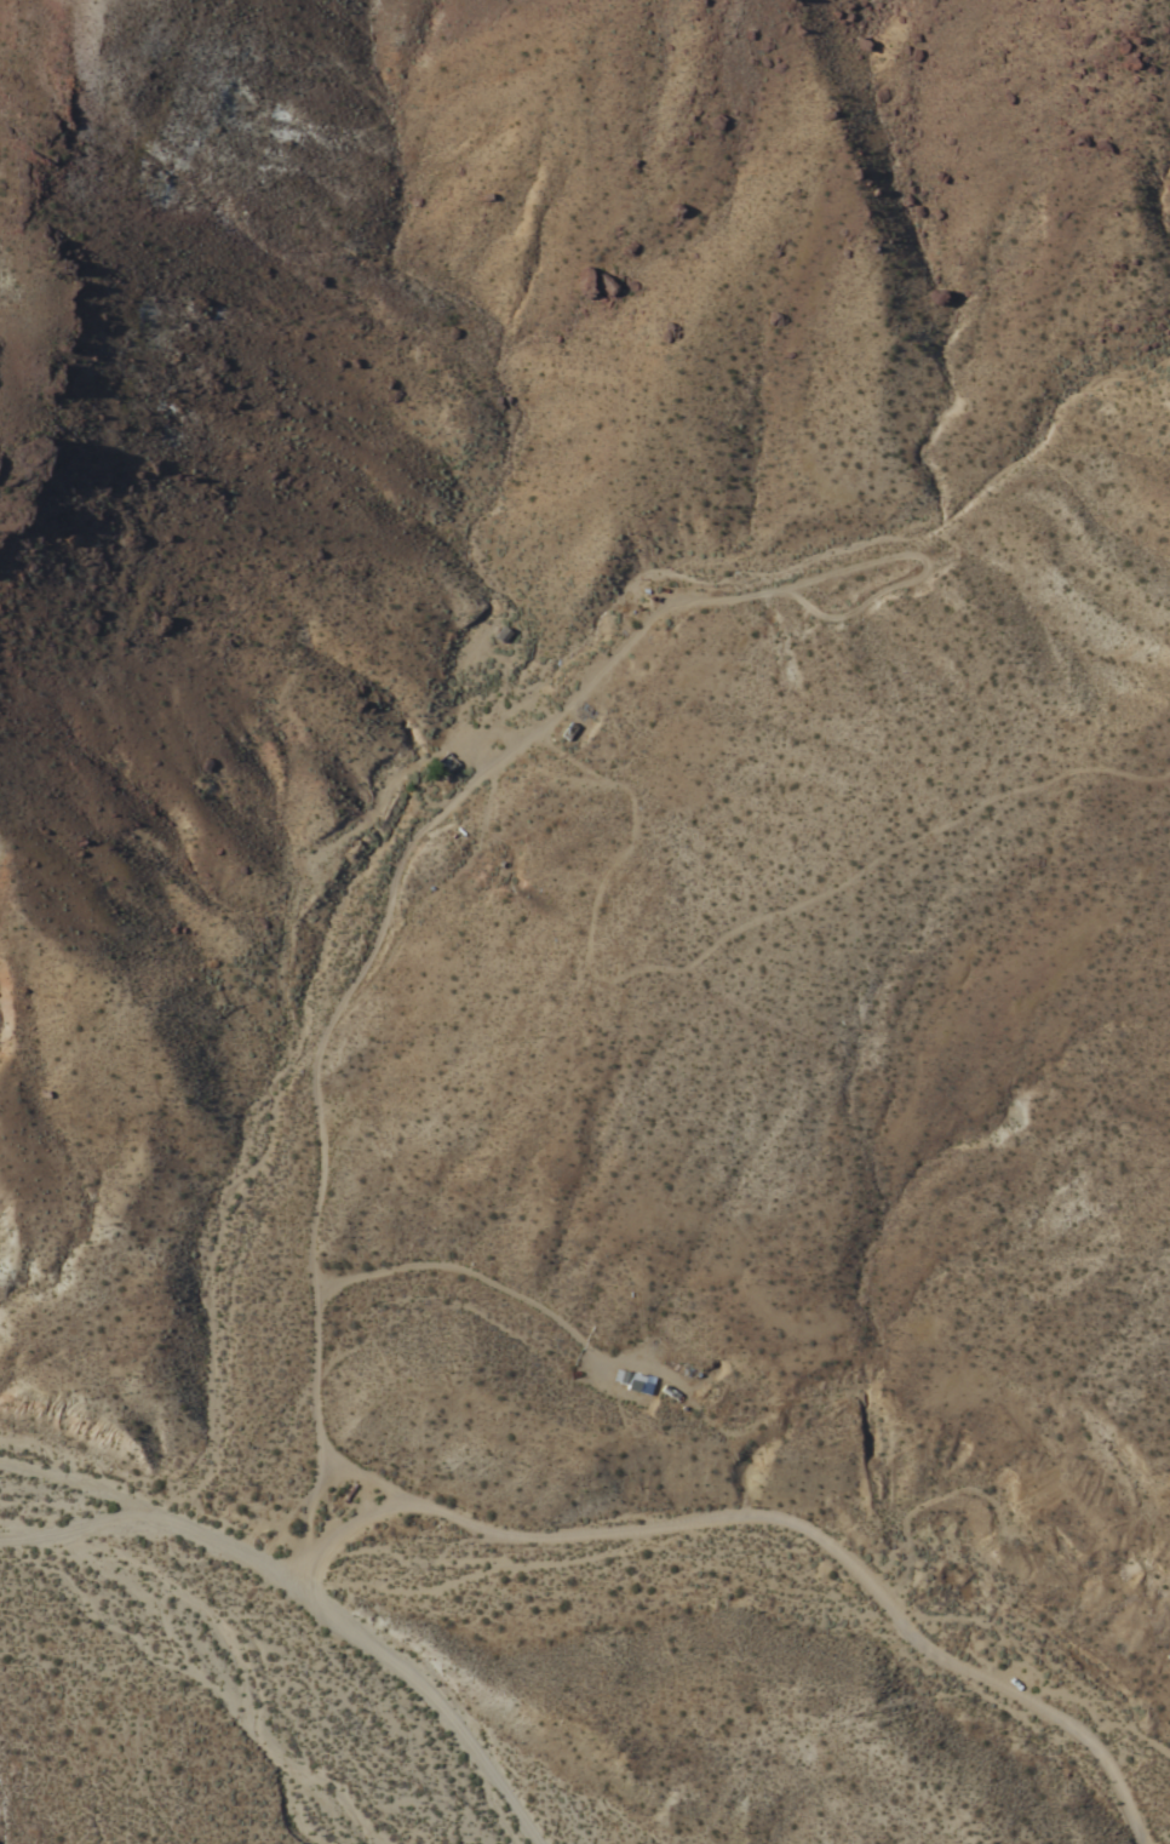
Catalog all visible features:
road: (493, 791)
road: (831, 883)
road: (465, 991)
road: (311, 1233)
road: (464, 1259)
building: (633, 1382)
road: (144, 1508)
road: (304, 1514)
road: (778, 1516)
road: (428, 1691)

